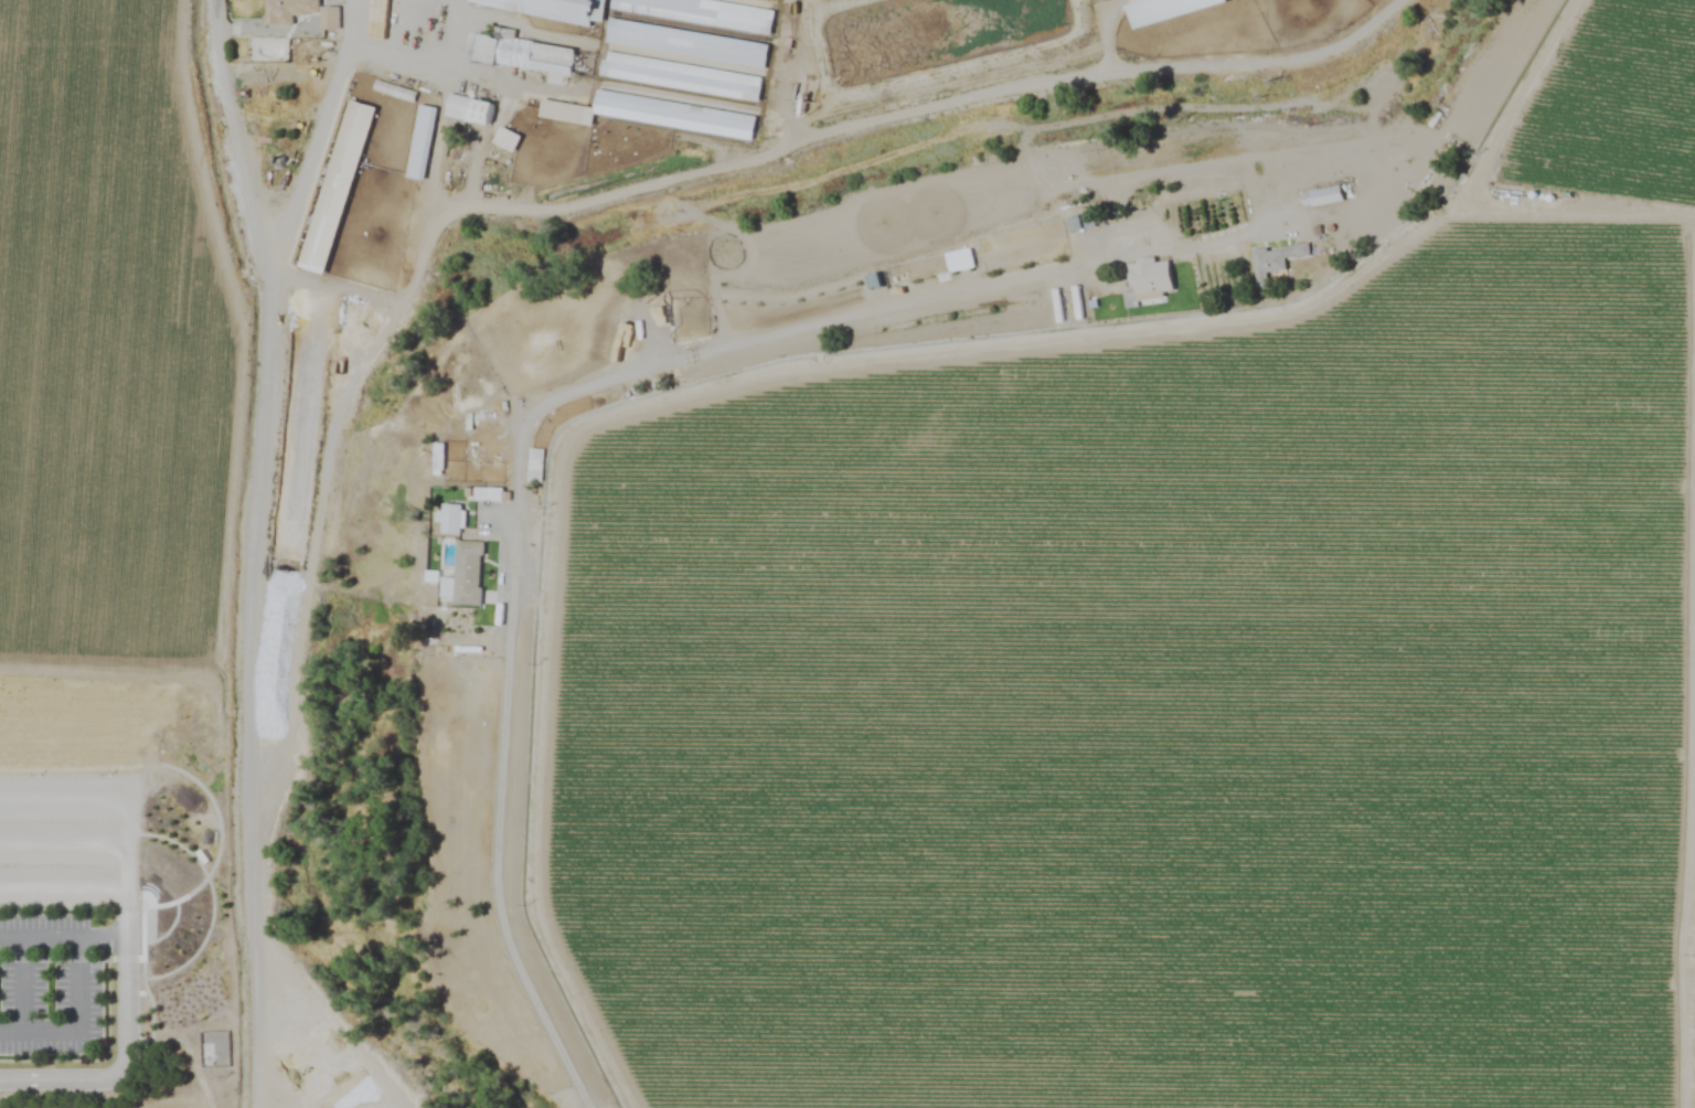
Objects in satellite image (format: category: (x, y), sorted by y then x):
building: (548, 8)
building: (1161, 10)
building: (300, 12)
building: (701, 13)
building: (685, 44)
building: (521, 50)
building: (679, 76)
building: (393, 90)
building: (470, 110)
building: (562, 113)
building: (671, 115)
road: (225, 127)
road: (800, 136)
building: (507, 140)
building: (419, 141)
building: (335, 188)
building: (1320, 198)
building: (1275, 259)
building: (1140, 276)
building: (1180, 284)
crop: (113, 324)
road: (529, 470)
building: (450, 519)
road: (269, 539)
building: (466, 573)
crop: (1192, 653)
road: (65, 851)
road: (65, 886)
road: (65, 935)
road: (23, 981)
road: (79, 1021)
road: (129, 1023)

